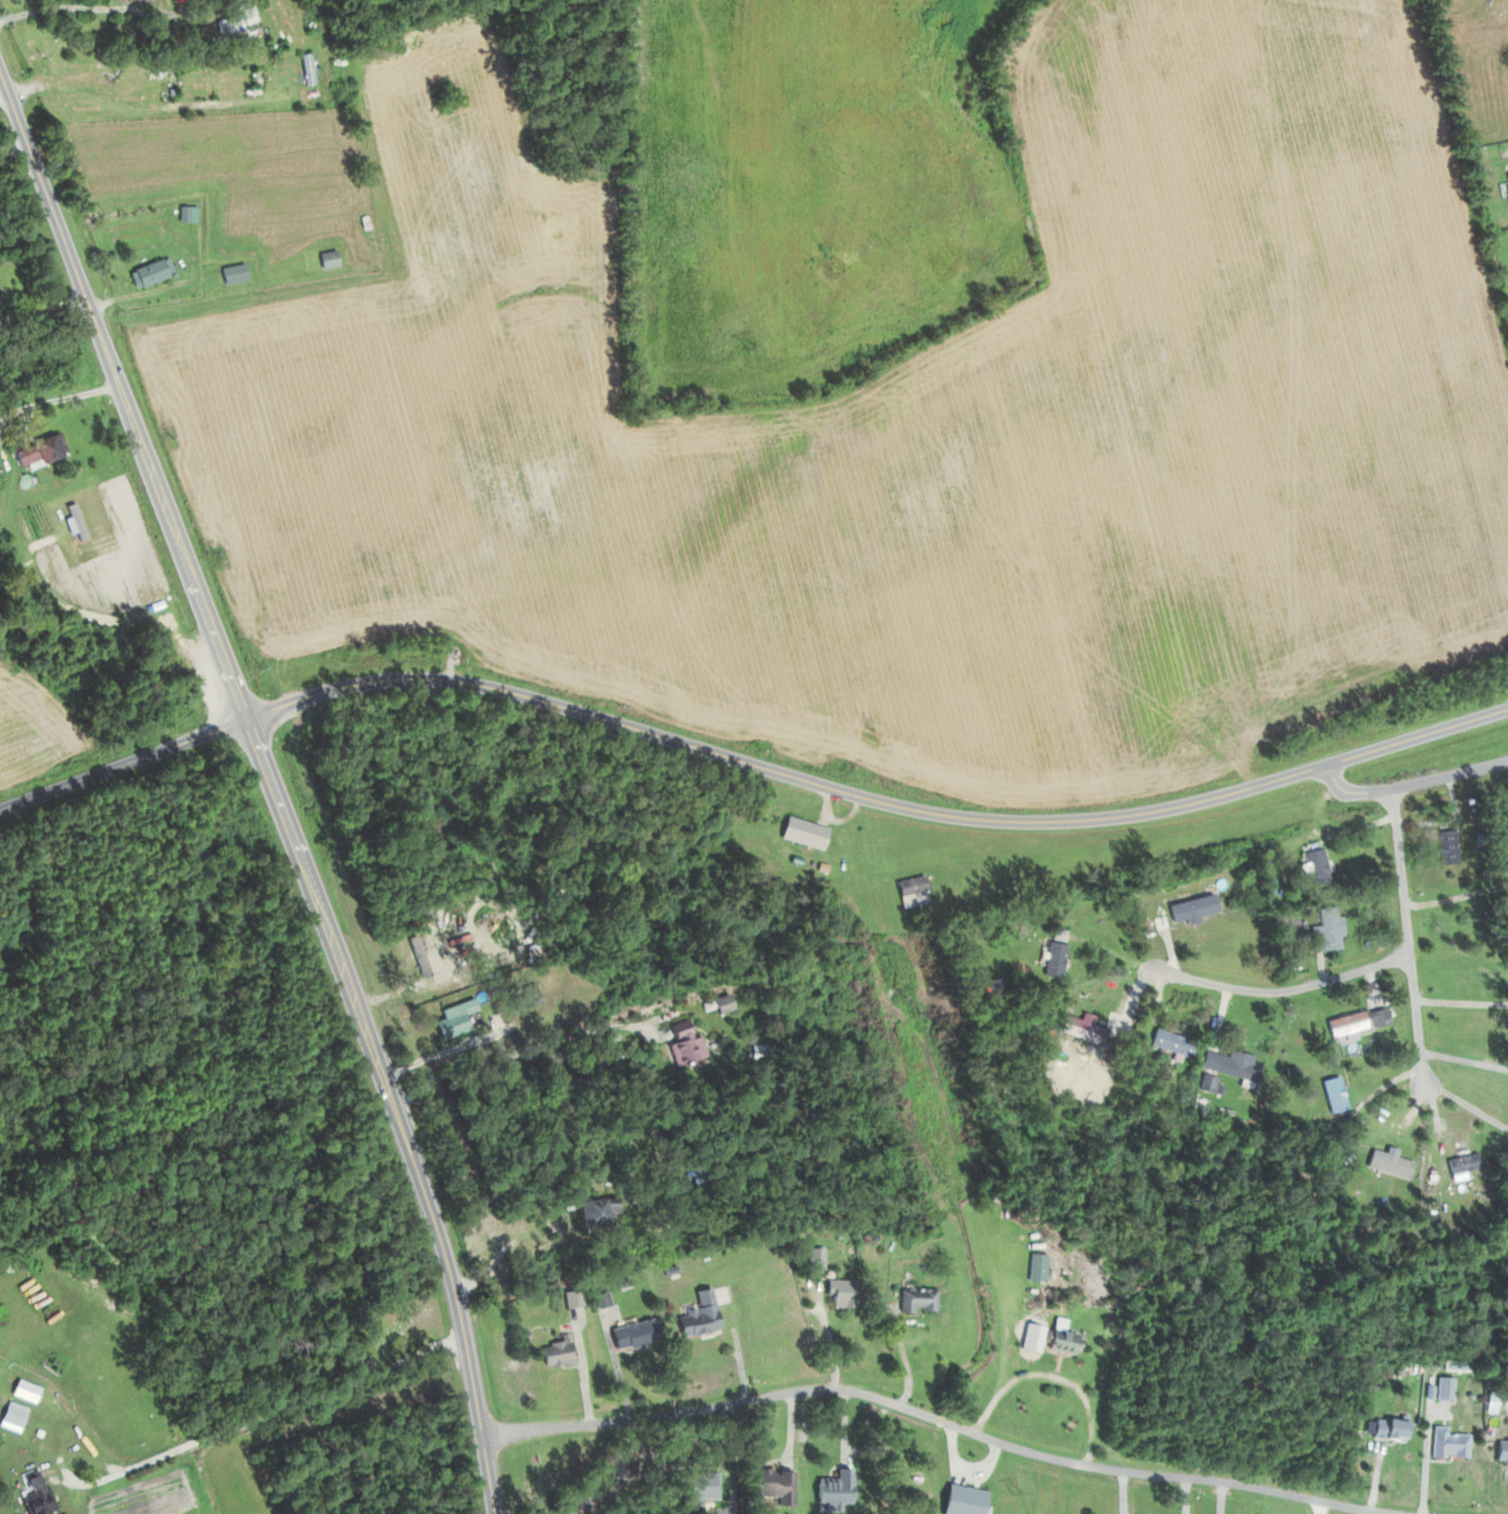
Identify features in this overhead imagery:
building: (226, 24)
building: (304, 68)
road: (6, 91)
road: (17, 151)
building: (1505, 180)
building: (185, 212)
building: (326, 257)
building: (147, 270)
building: (231, 272)
road: (45, 311)
power tower: (749, 347)
road: (59, 400)
building: (34, 449)
road: (107, 612)
road: (125, 762)
power tower: (848, 762)
road: (274, 778)
road: (1411, 782)
road: (876, 799)
building: (800, 831)
building: (1446, 845)
building: (1314, 864)
building: (958, 877)
building: (910, 891)
building: (1183, 909)
building: (1325, 928)
road: (1406, 935)
building: (1053, 952)
road: (1283, 986)
building: (719, 1002)
building: (452, 1018)
building: (1355, 1020)
building: (1078, 1029)
building: (680, 1042)
building: (1171, 1042)
road: (522, 1051)
building: (1227, 1065)
building: (1333, 1092)
building: (1383, 1159)
building: (1469, 1162)
power tower: (943, 1176)
building: (589, 1214)
building: (815, 1257)
building: (839, 1292)
building: (571, 1297)
building: (918, 1299)
building: (698, 1315)
park: (395, 1318)
building: (631, 1334)
building: (1059, 1340)
building: (556, 1352)
building: (1442, 1387)
road: (939, 1408)
building: (10, 1413)
road: (283, 1416)
building: (1387, 1429)
building: (1447, 1443)
building: (1500, 1450)
building: (772, 1483)
building: (835, 1487)
power tower: (1022, 1491)
building: (33, 1493)
building: (961, 1499)

